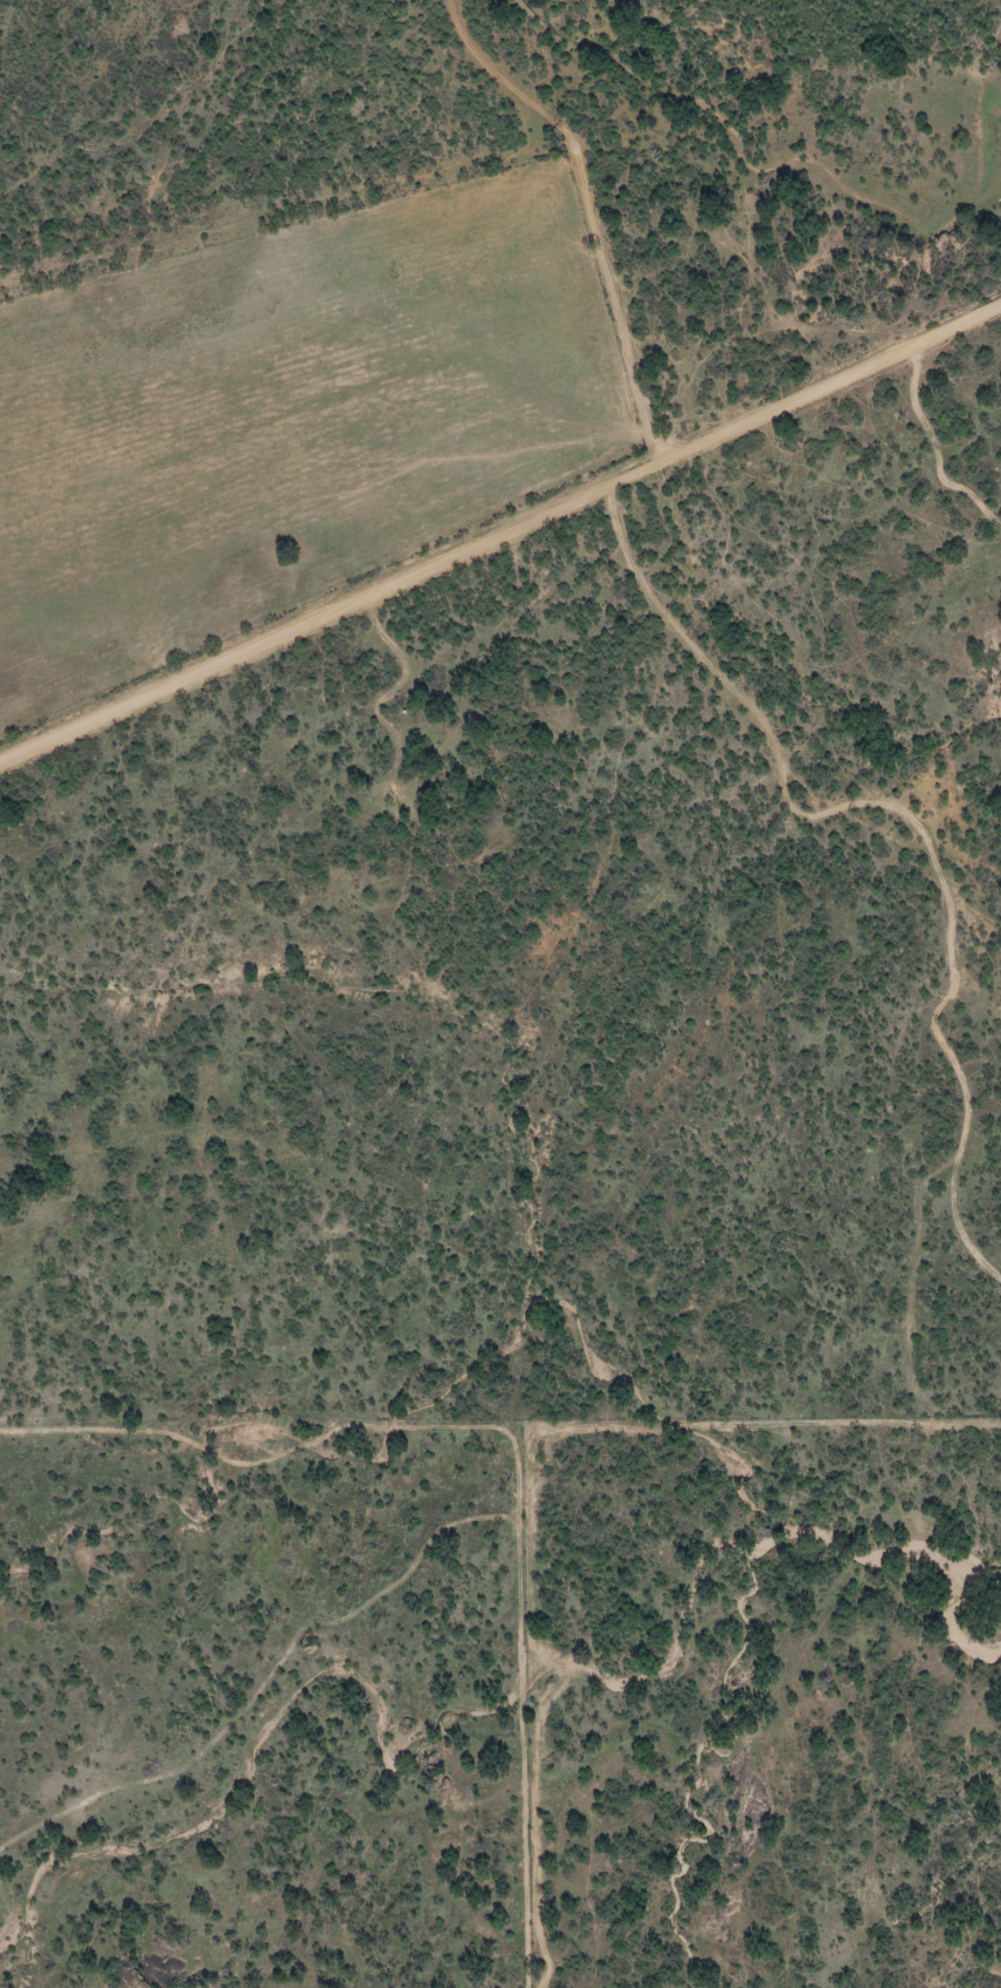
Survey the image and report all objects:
road: (500, 534)

